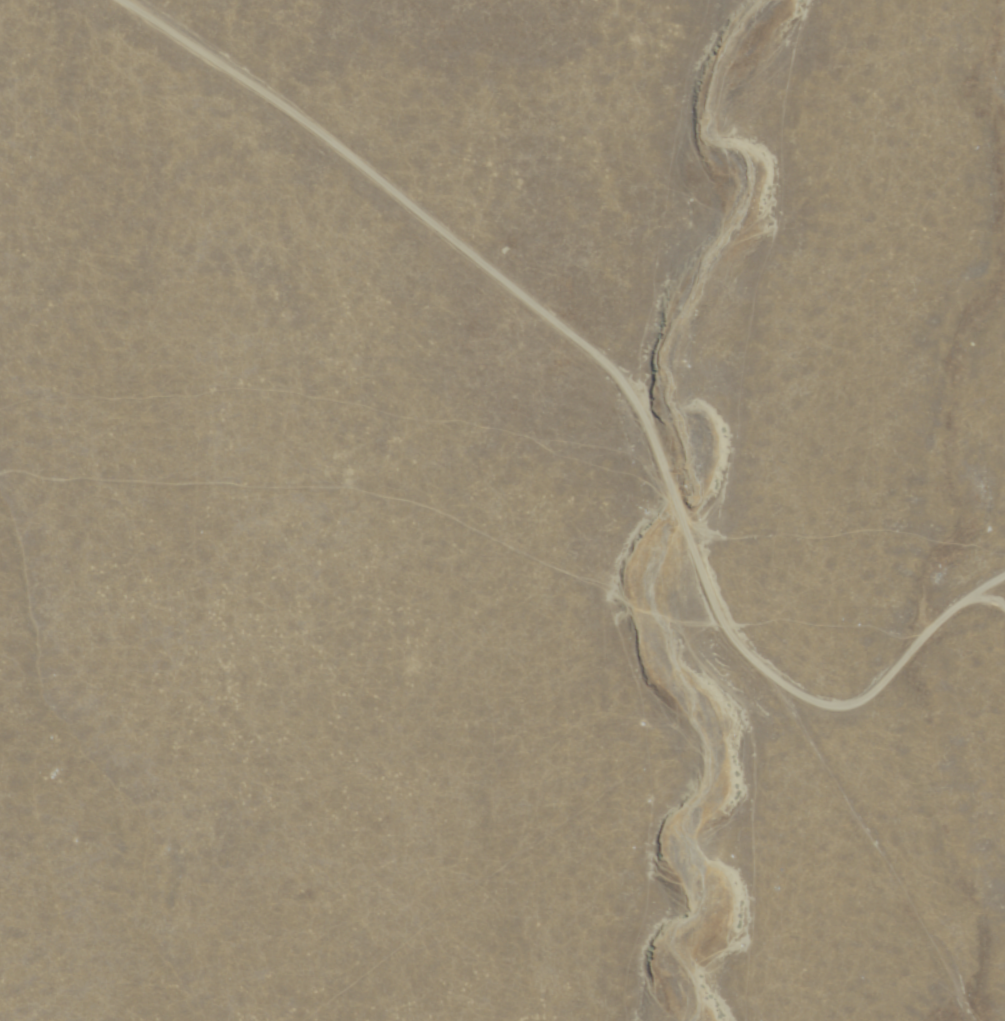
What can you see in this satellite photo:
road: (618, 383)

